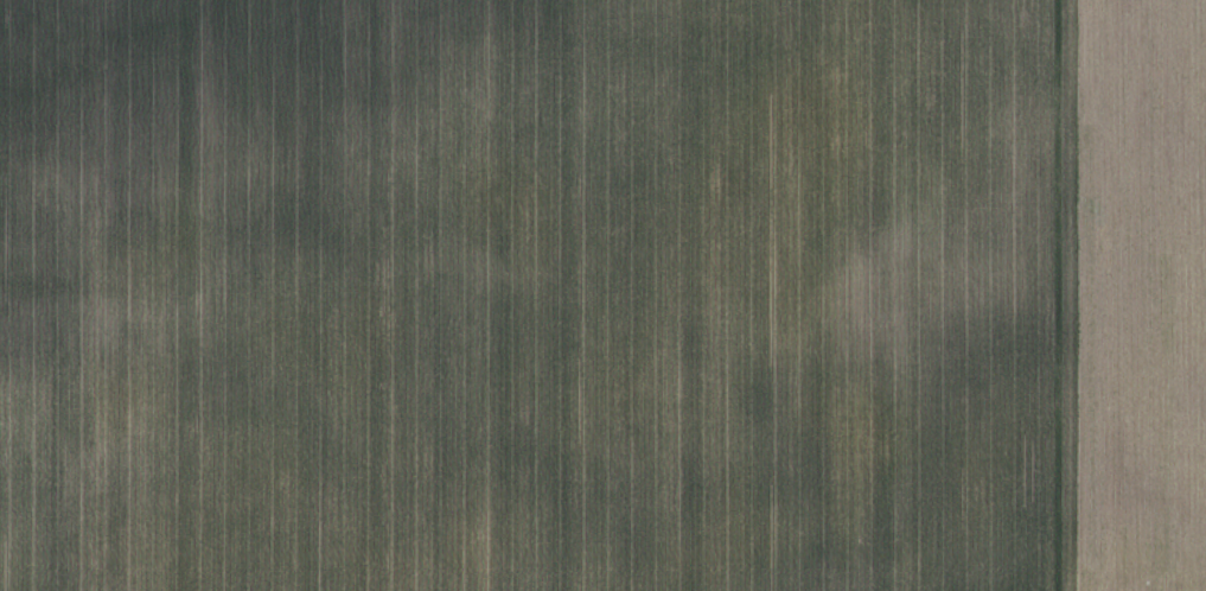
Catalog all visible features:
crop: (602, 295)

